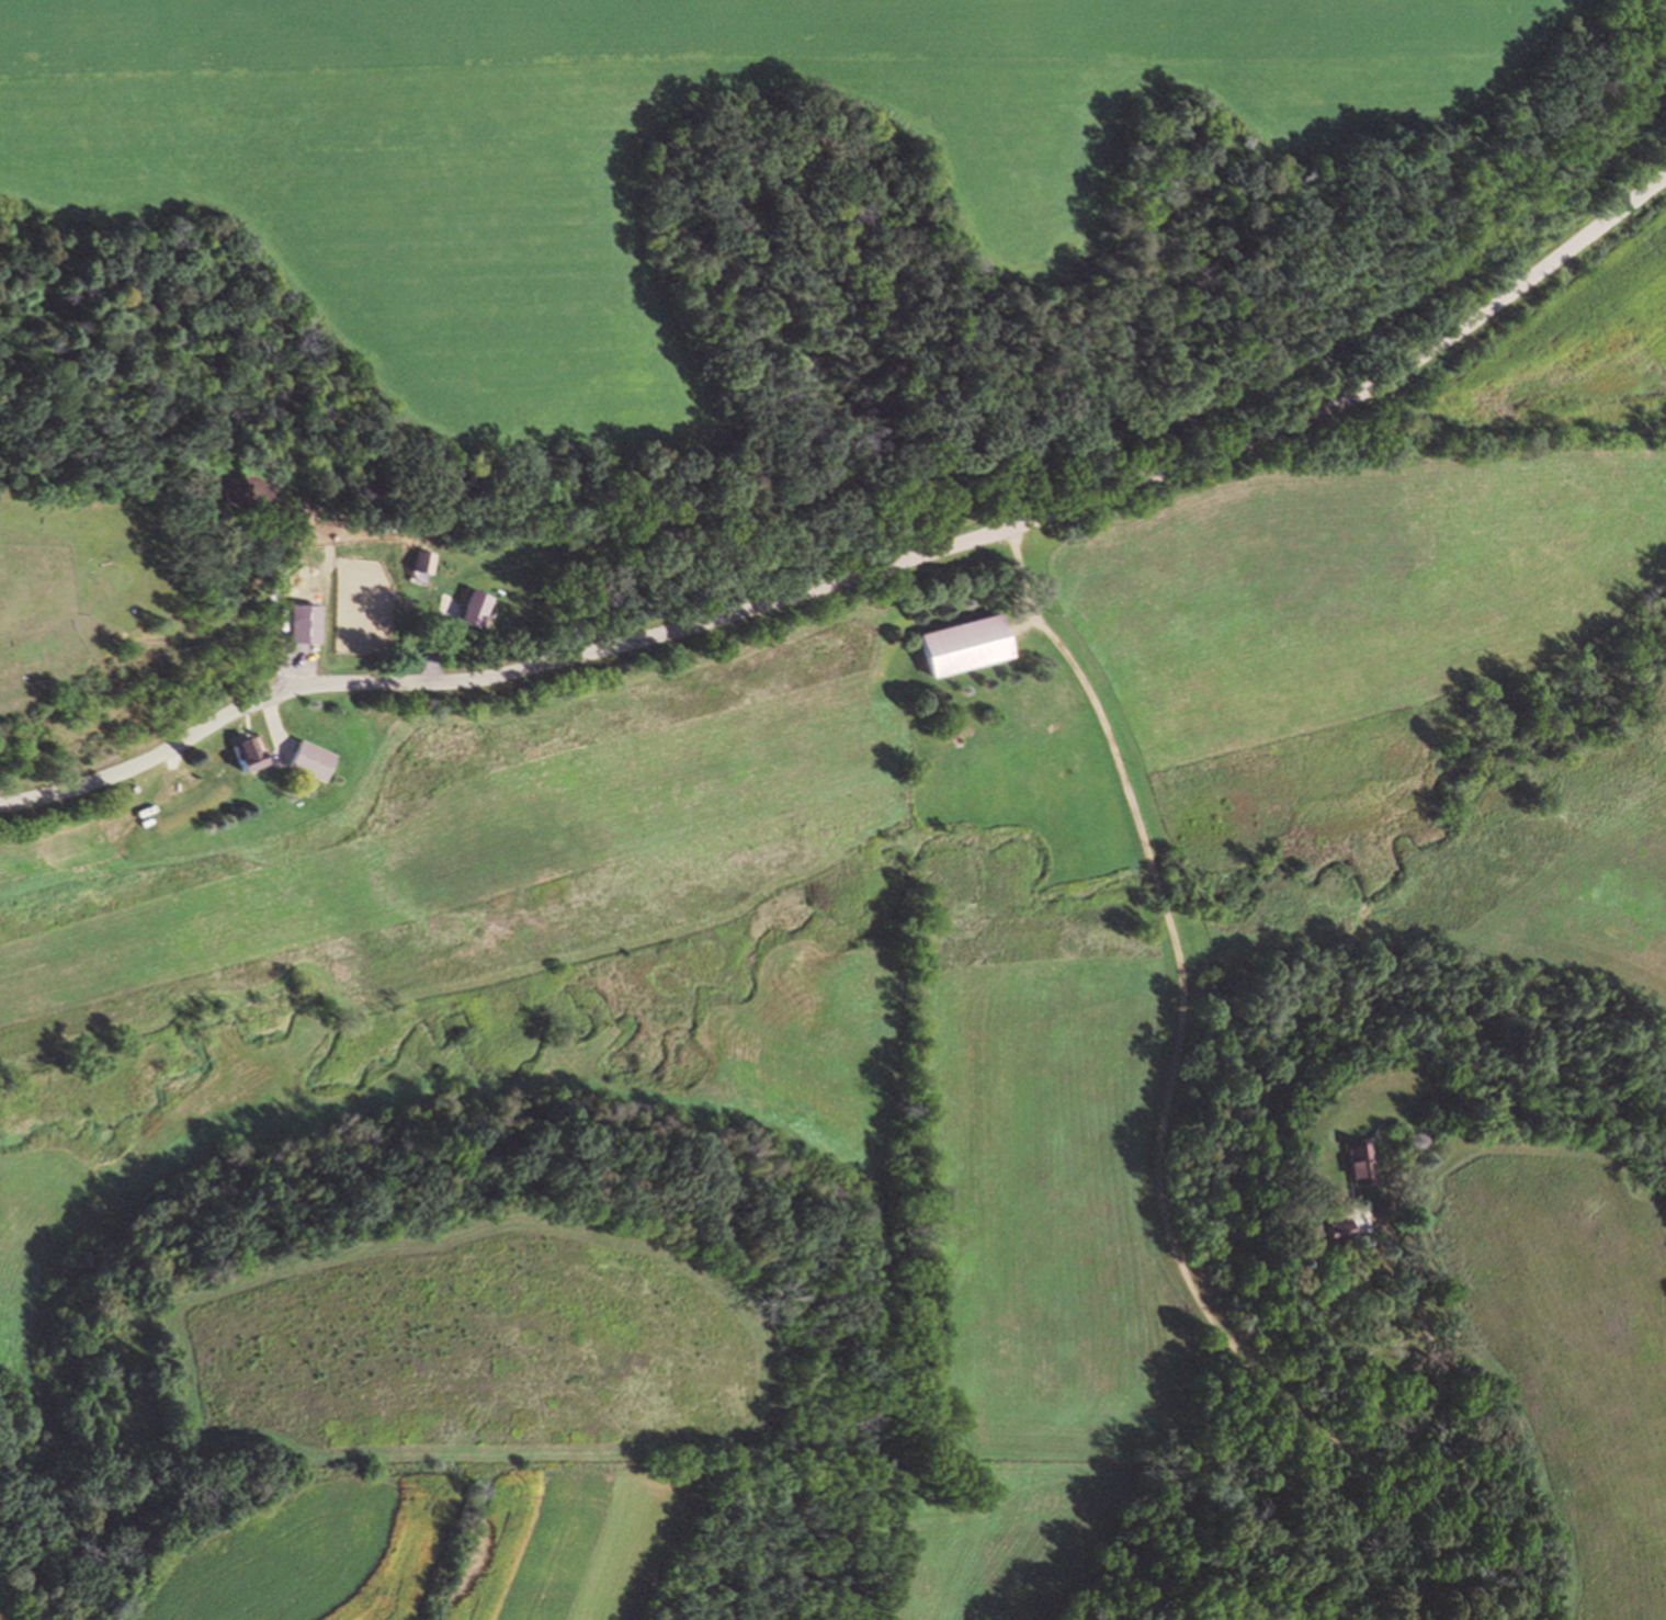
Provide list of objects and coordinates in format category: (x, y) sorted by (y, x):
building: (427, 568)
road: (865, 579)
building: (480, 615)
building: (309, 632)
road: (439, 648)
building: (974, 657)
building: (252, 761)
building: (314, 767)
road: (1169, 1122)
building: (1360, 1164)
building: (1345, 1227)

